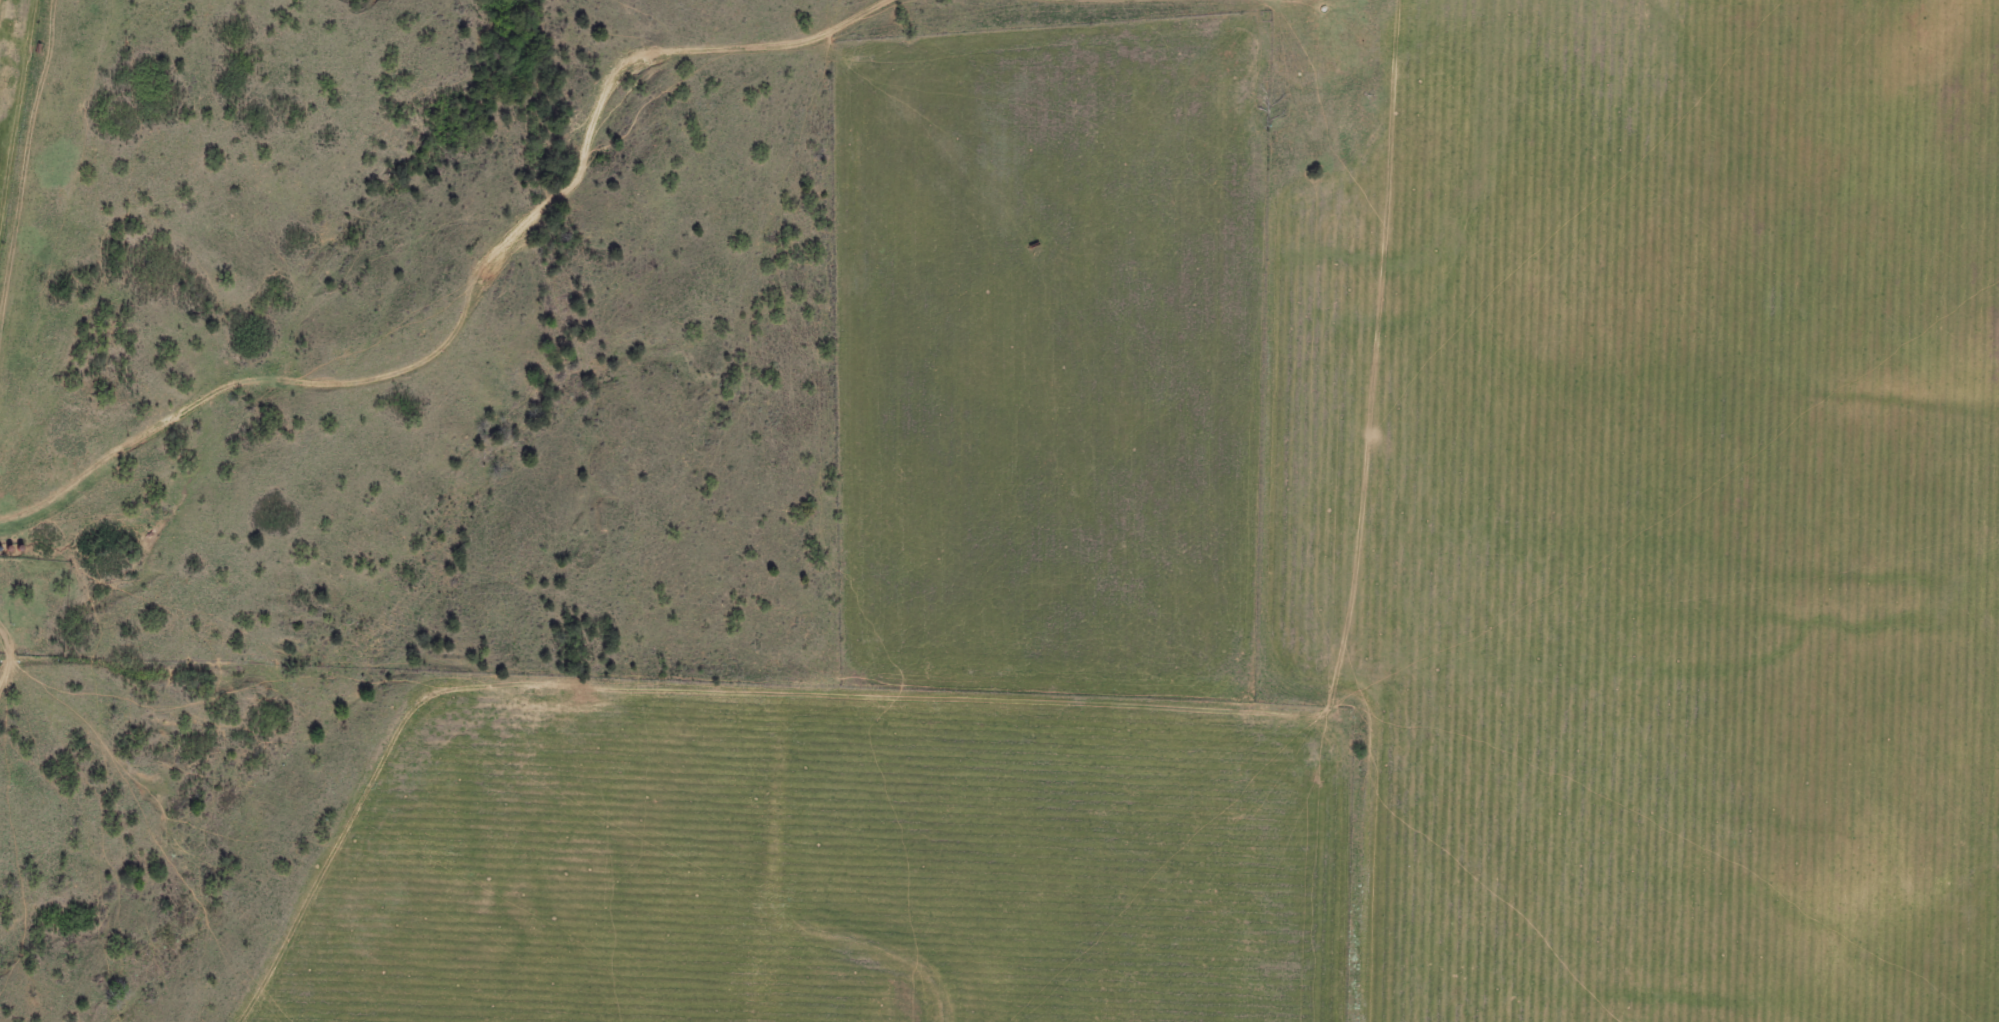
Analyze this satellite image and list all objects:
road: (478, 279)
road: (1274, 509)

